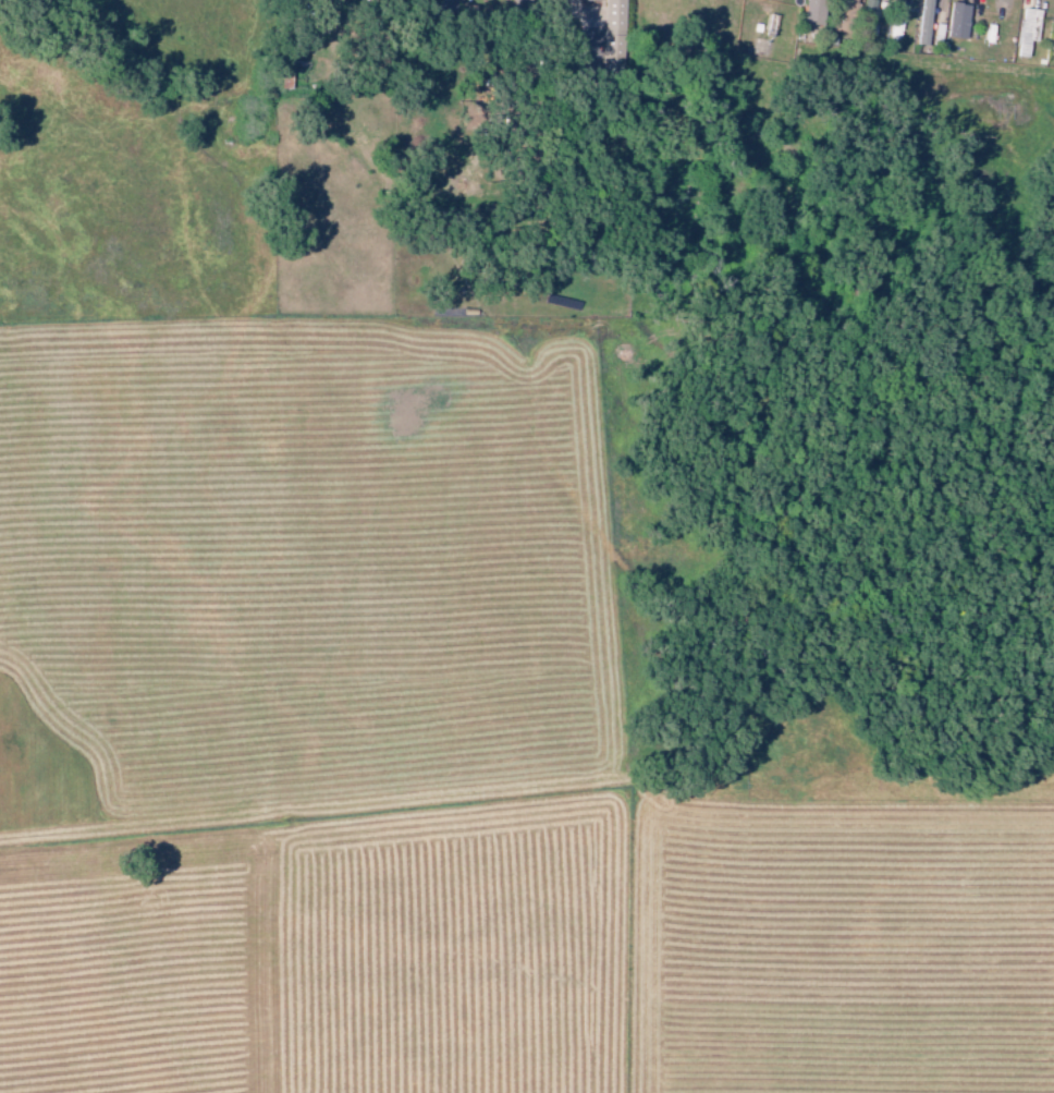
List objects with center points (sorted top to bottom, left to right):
building: (813, 12)
building: (612, 16)
building: (956, 22)
building: (922, 23)
building: (1025, 31)
building: (1052, 46)

